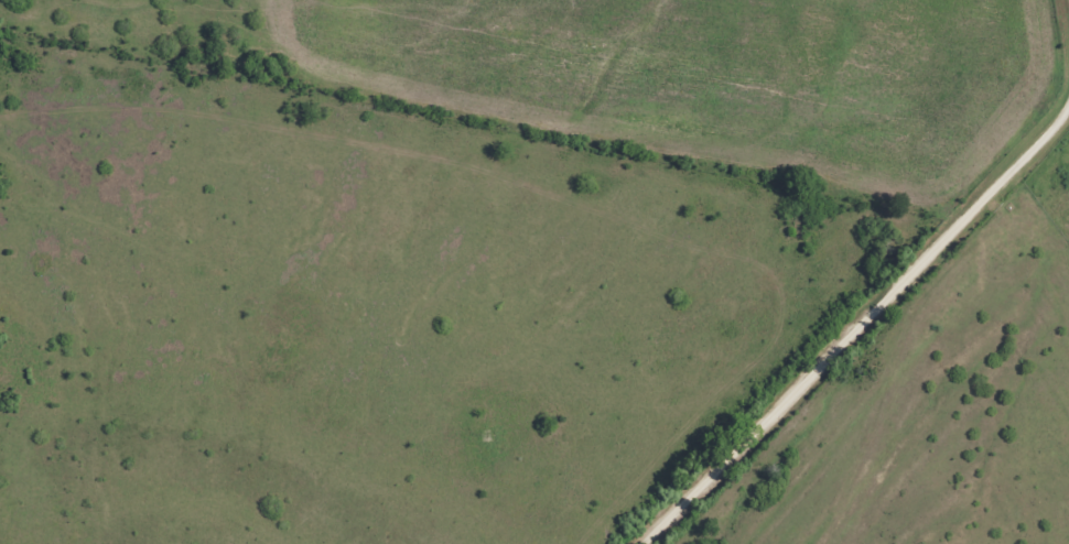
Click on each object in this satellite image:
road: (857, 323)

